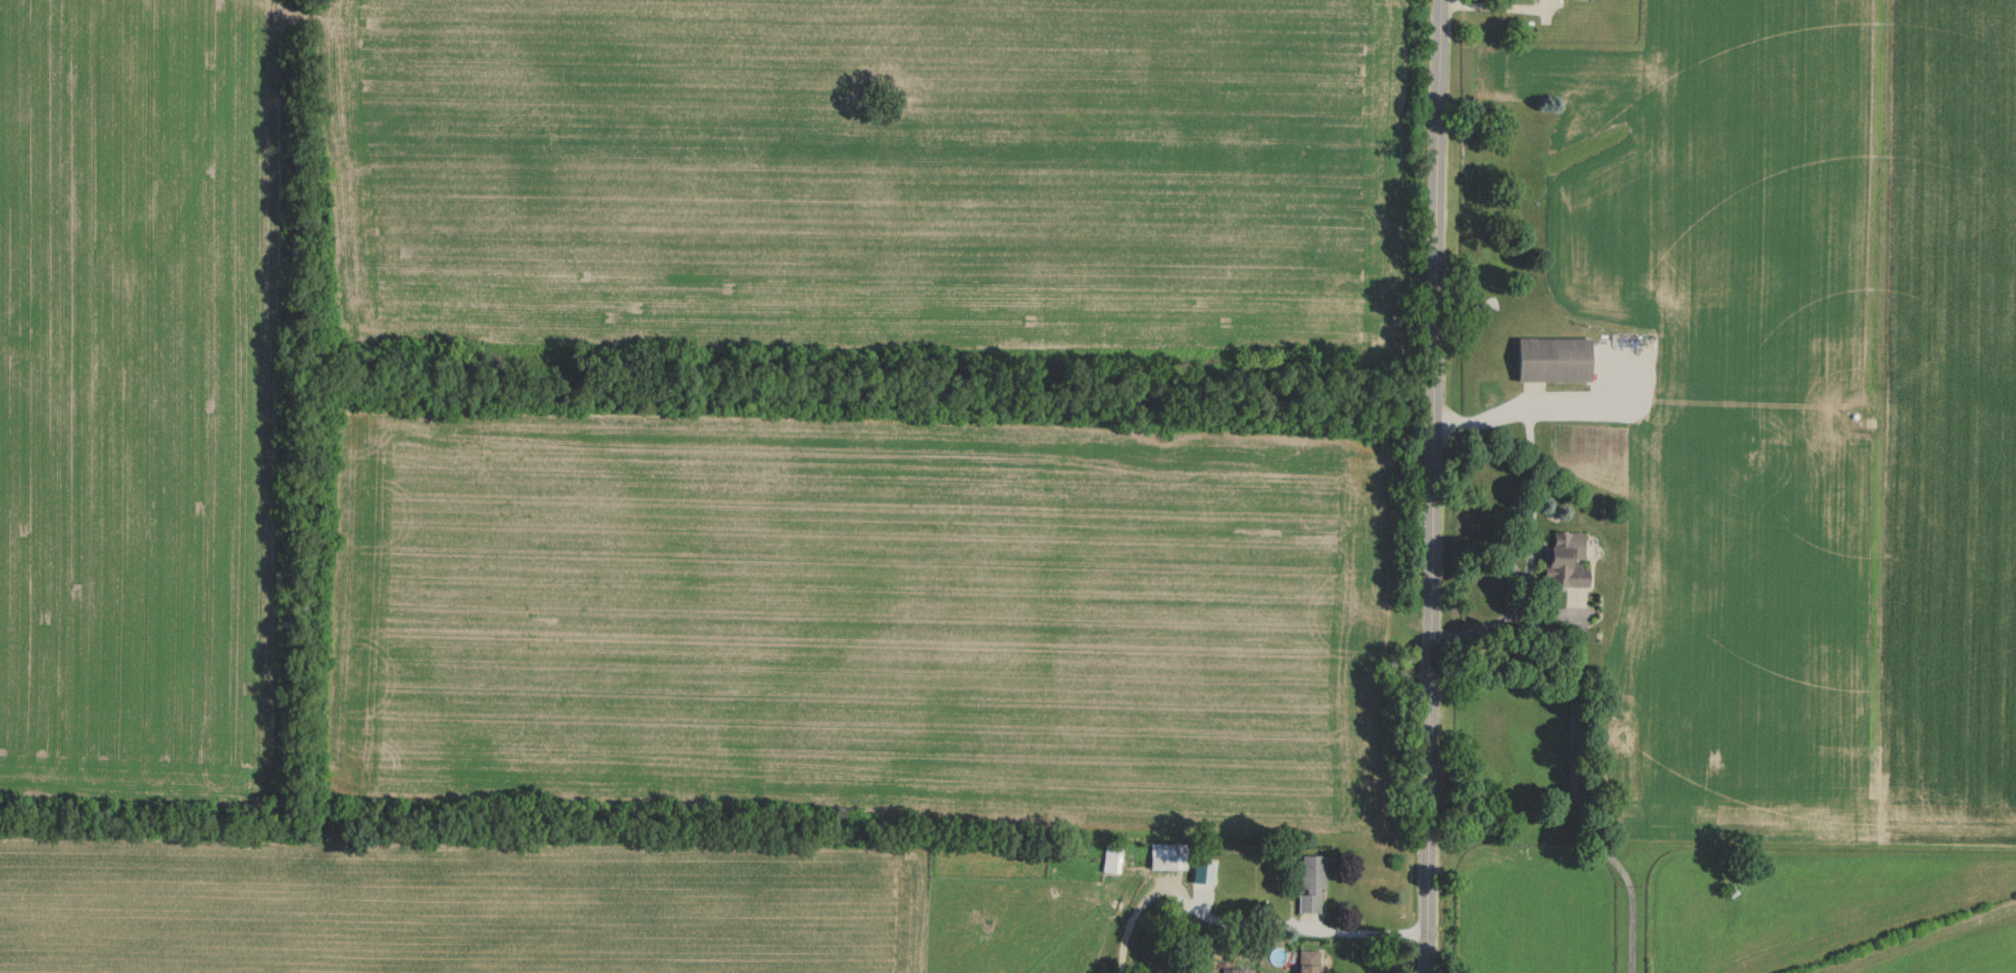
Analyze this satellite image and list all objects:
road: (1492, 12)
building: (1553, 358)
road: (1532, 407)
road: (1433, 486)
building: (1562, 562)
road: (1530, 568)
building: (1167, 856)
building: (1111, 858)
building: (1311, 882)
road: (1237, 922)
building: (1307, 961)
building: (1241, 970)

